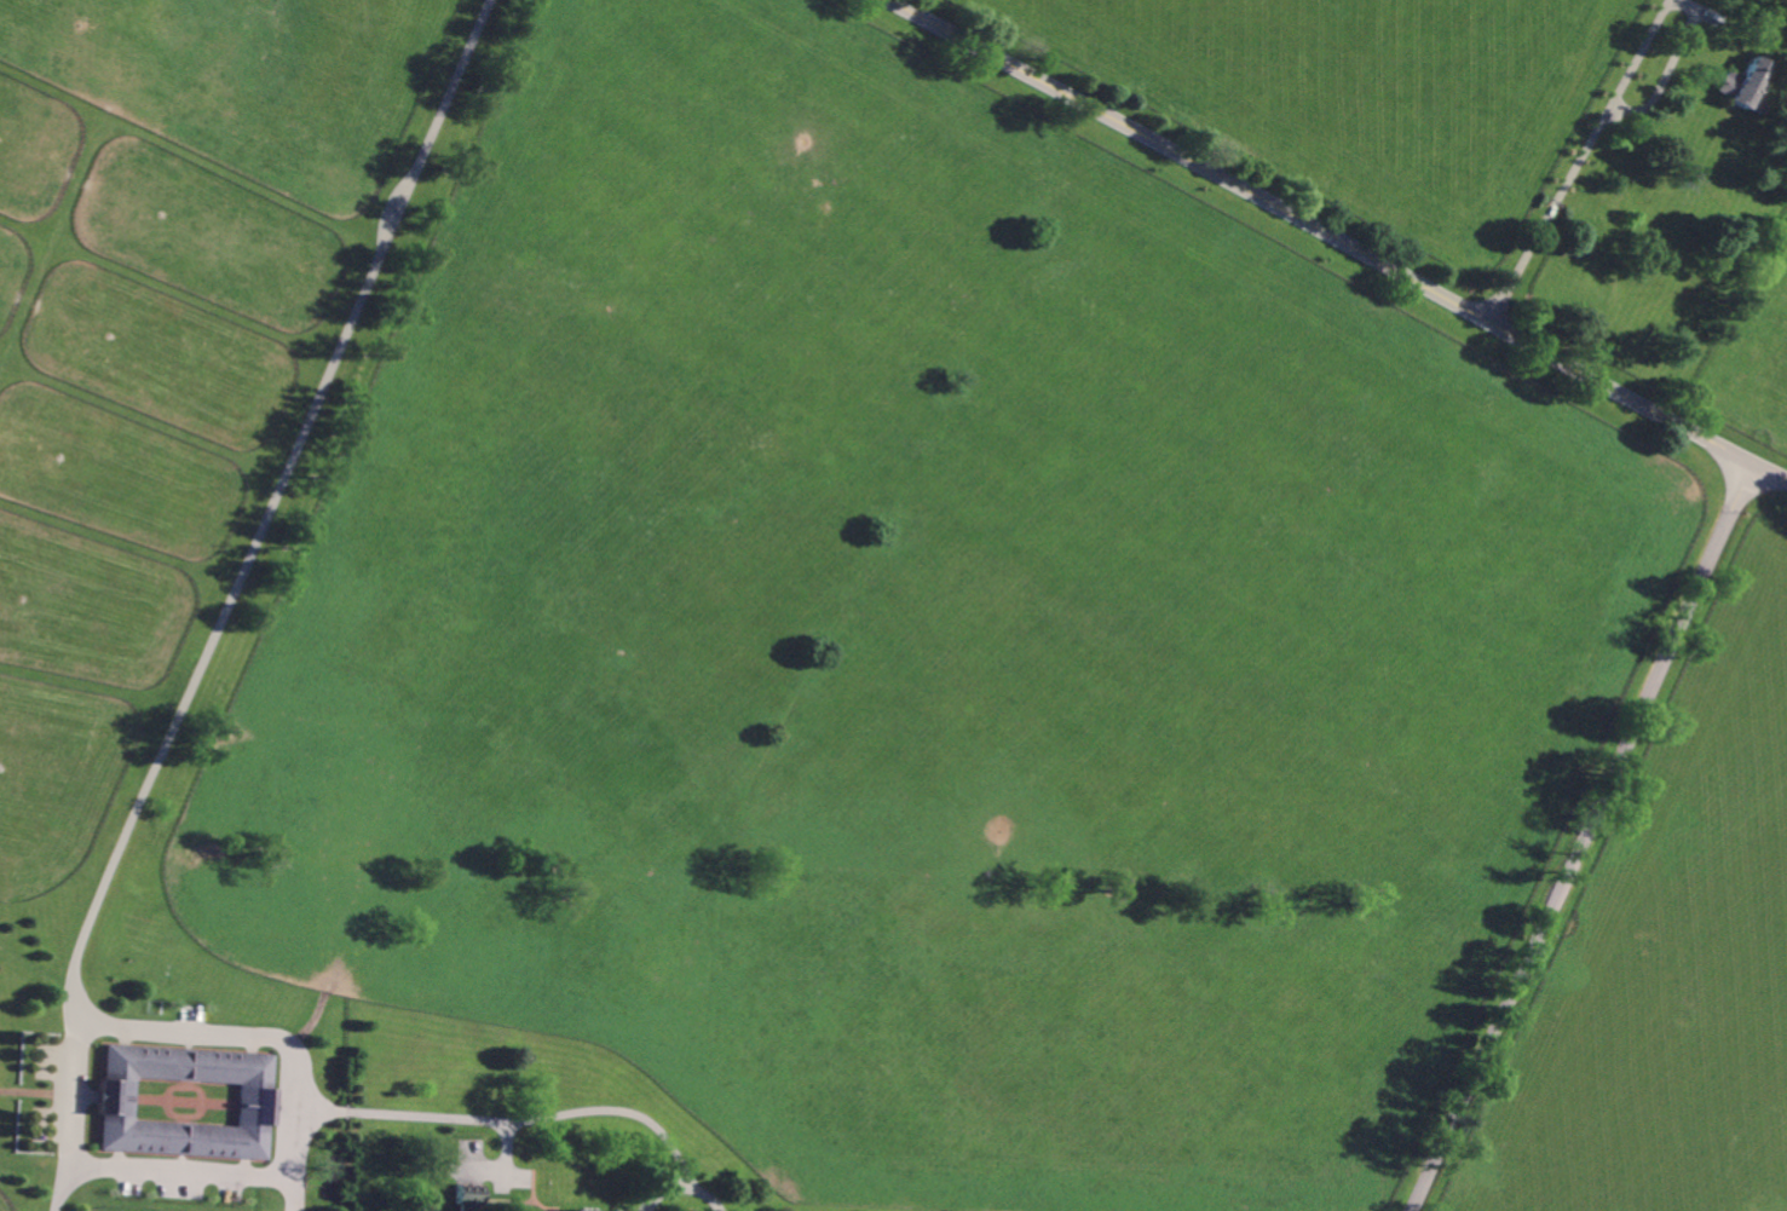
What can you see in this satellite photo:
road: (1578, 161)
road: (1612, 178)
road: (1338, 240)
road: (1581, 835)
road: (117, 859)
building: (186, 1102)
road: (74, 1119)
road: (213, 1173)
road: (707, 1195)
building: (472, 1199)

